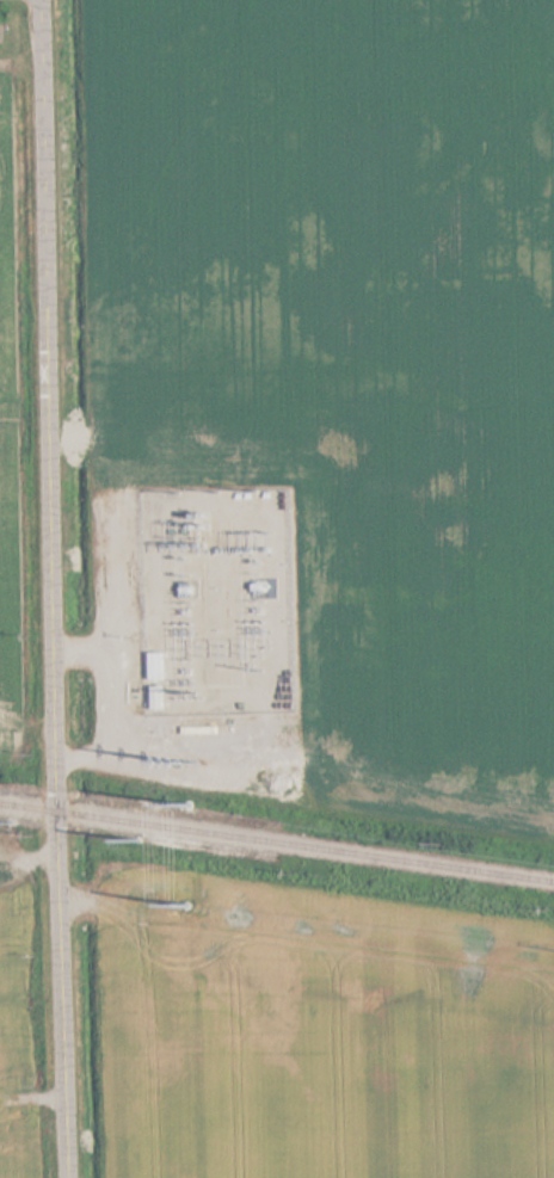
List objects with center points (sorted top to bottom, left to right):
road: (57, 588)
power substation: (217, 600)
building: (164, 698)
power tower: (183, 801)
railway: (277, 840)
power tower: (184, 908)

